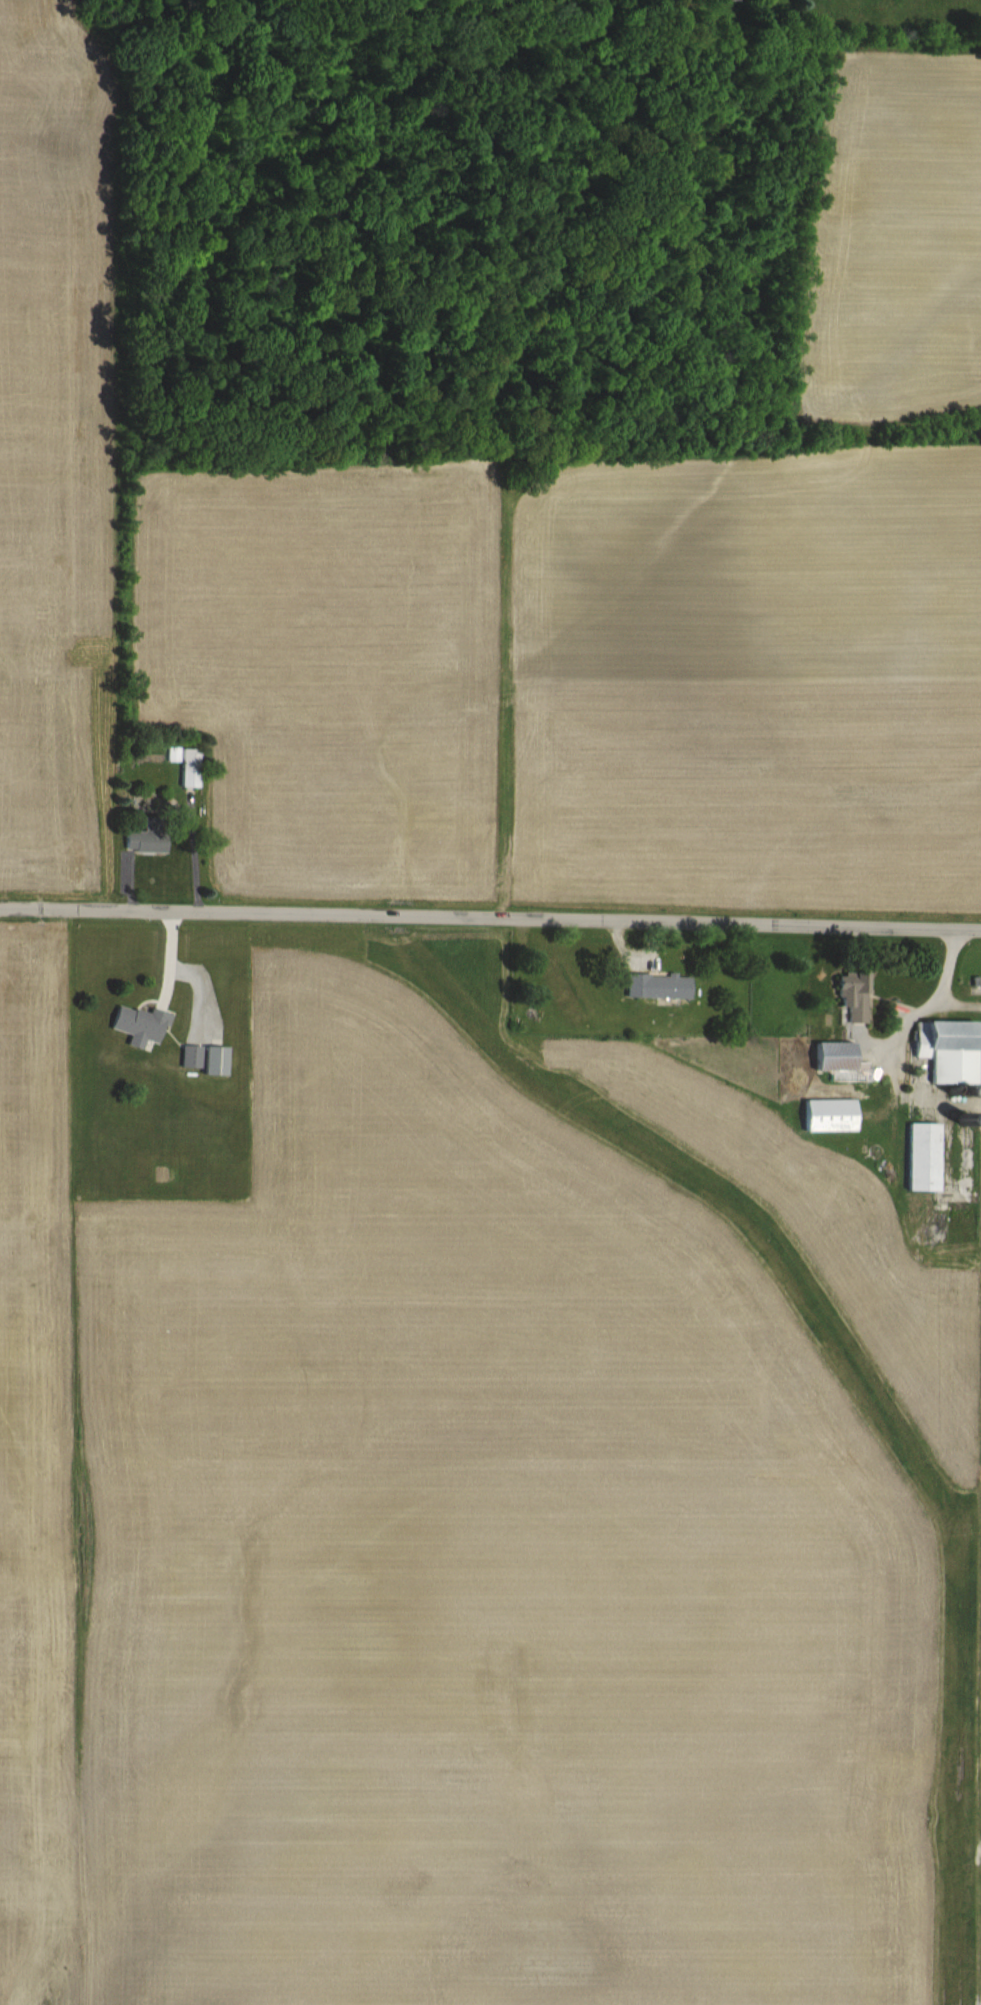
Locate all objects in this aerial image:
crop: (51, 453)
crop: (600, 529)
building: (189, 767)
building: (147, 838)
road: (490, 919)
building: (656, 985)
building: (851, 995)
road: (935, 999)
road: (959, 1006)
building: (138, 1024)
building: (946, 1049)
building: (189, 1056)
building: (833, 1056)
building: (213, 1060)
building: (827, 1115)
building: (953, 1150)
building: (921, 1156)
crop: (508, 1478)

